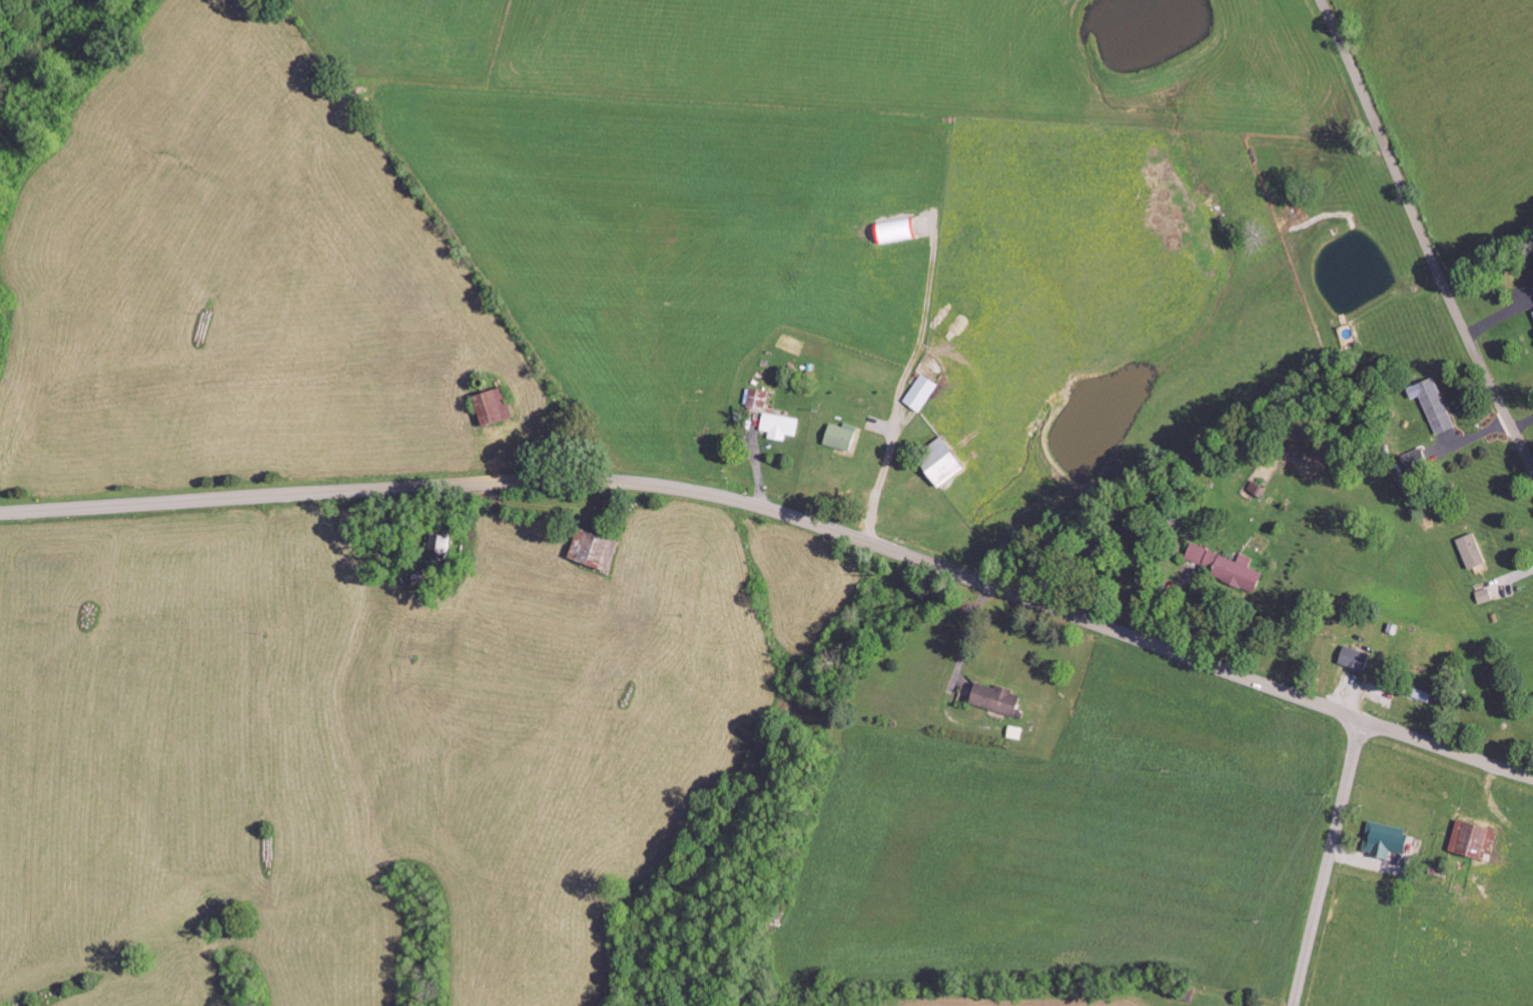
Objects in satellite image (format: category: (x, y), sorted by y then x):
road: (1421, 241)
building: (920, 392)
building: (754, 397)
building: (1434, 405)
building: (493, 407)
building: (778, 425)
building: (840, 436)
building: (1417, 460)
building: (940, 461)
road: (786, 515)
building: (438, 547)
building: (594, 549)
building: (1472, 551)
building: (1199, 555)
building: (1238, 572)
building: (1355, 658)
building: (997, 699)
building: (1473, 838)
building: (1385, 839)
road: (1327, 863)

